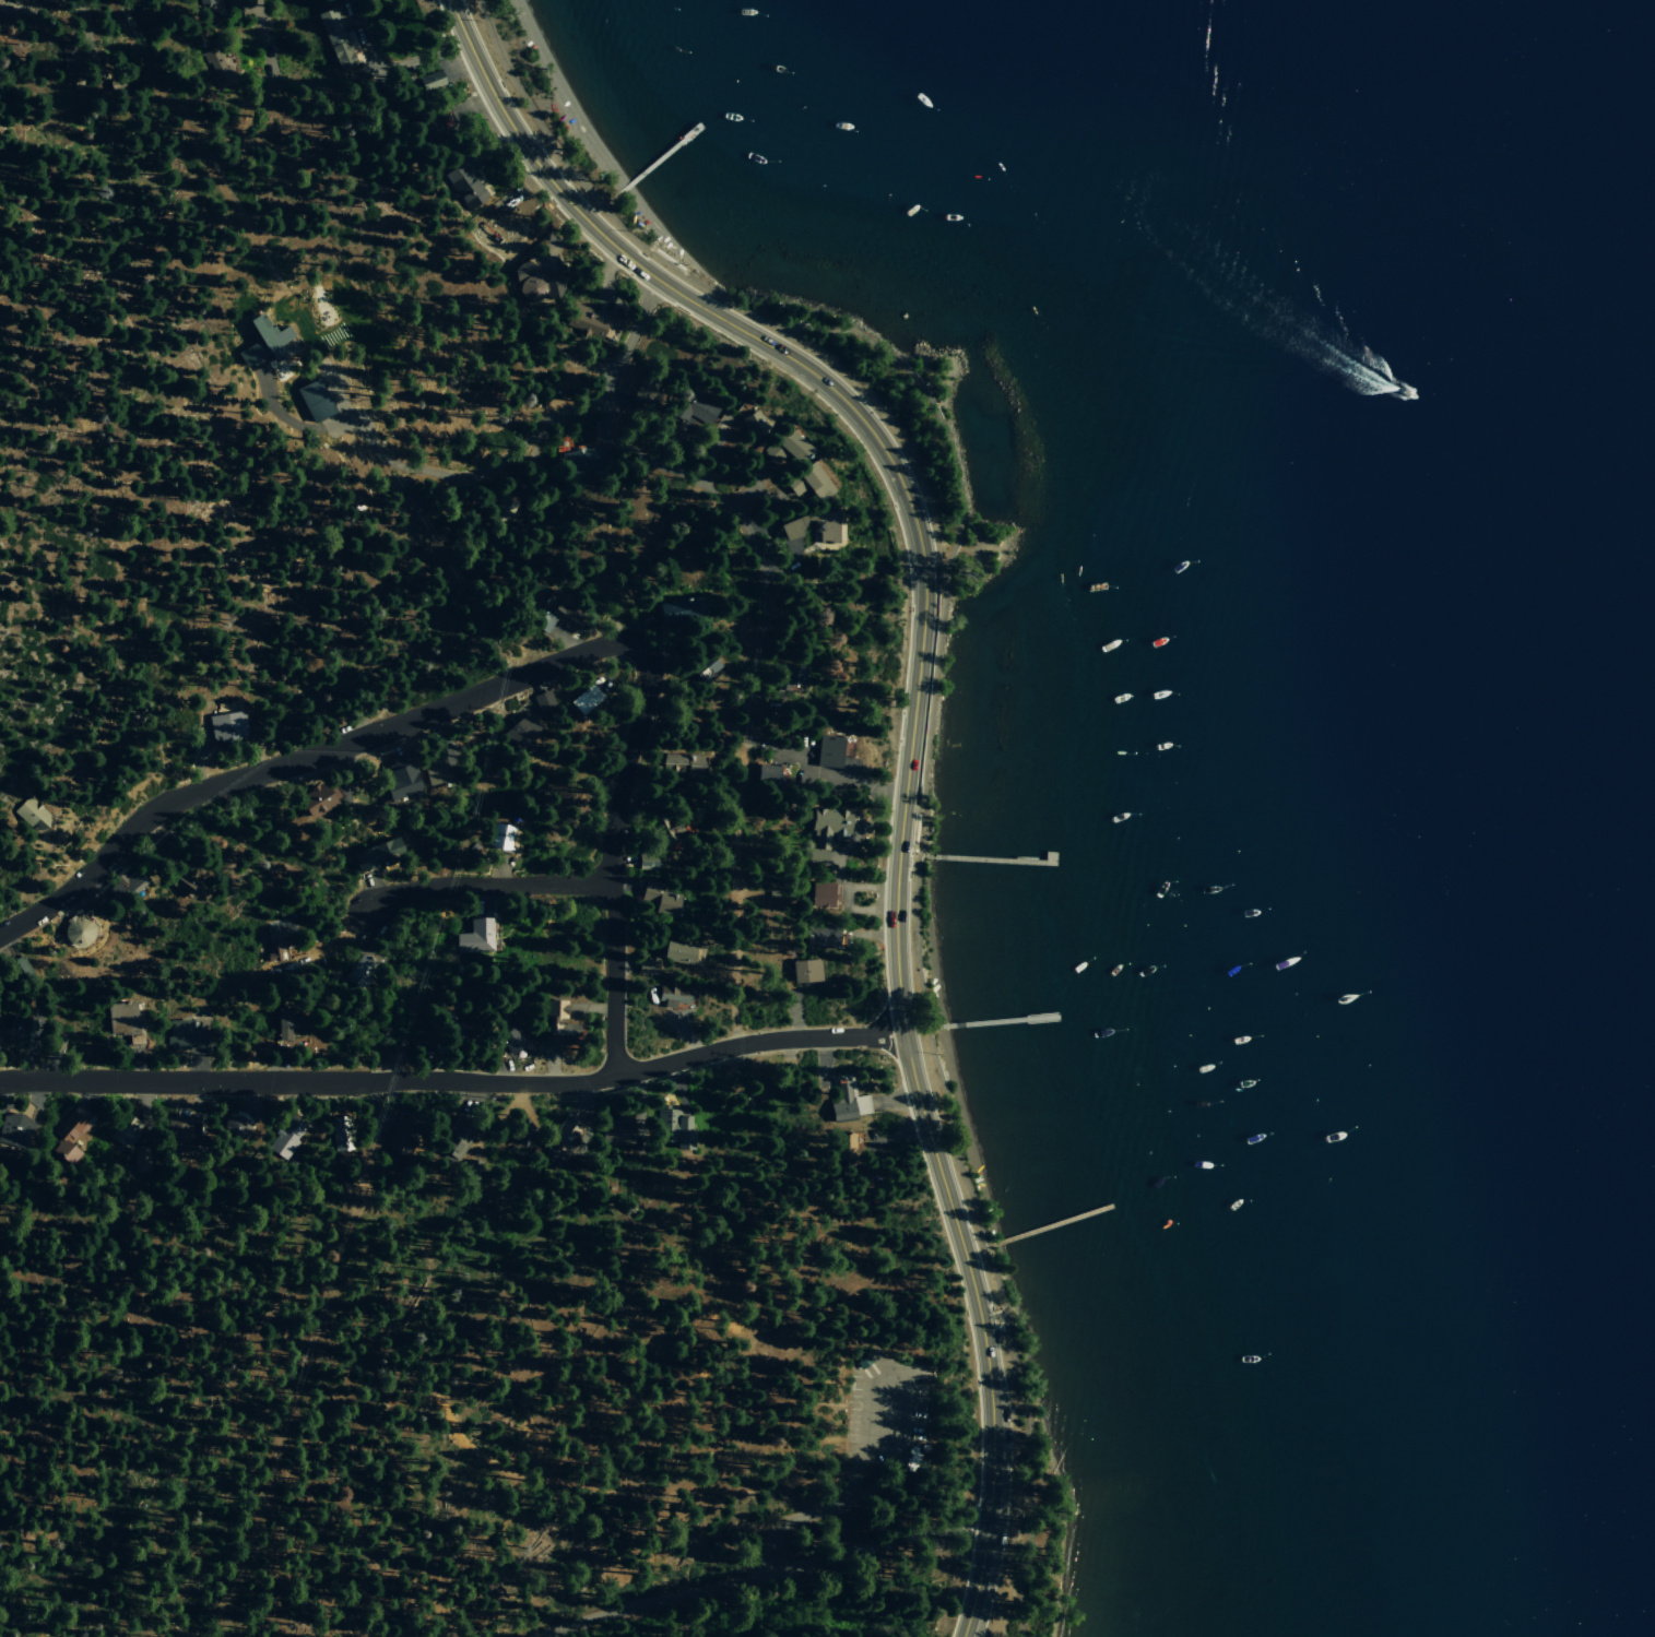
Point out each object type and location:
building: (15, 1)
building: (206, 2)
road: (263, 35)
building: (339, 40)
road: (138, 50)
building: (73, 52)
building: (215, 62)
building: (433, 81)
pier: (657, 163)
building: (464, 185)
road: (251, 237)
building: (535, 287)
building: (587, 321)
building: (263, 340)
building: (646, 390)
building: (314, 401)
building: (698, 410)
building: (753, 420)
road: (291, 423)
building: (787, 447)
building: (581, 461)
road: (458, 476)
building: (808, 483)
road: (706, 487)
building: (500, 511)
building: (815, 527)
building: (676, 612)
building: (559, 617)
building: (705, 668)
building: (788, 677)
building: (586, 700)
building: (543, 701)
road: (927, 705)
road: (912, 726)
building: (226, 727)
building: (520, 732)
building: (831, 751)
road: (298, 762)
building: (684, 766)
building: (437, 772)
building: (768, 773)
building: (400, 780)
building: (319, 799)
building: (32, 815)
building: (825, 831)
building: (501, 838)
road: (612, 854)
building: (377, 856)
pier: (990, 858)
building: (647, 861)
building: (182, 885)
road: (487, 885)
building: (126, 886)
road: (730, 890)
building: (660, 899)
building: (76, 934)
building: (475, 937)
building: (821, 938)
building: (275, 944)
building: (682, 953)
building: (648, 965)
building: (19, 969)
building: (358, 973)
building: (806, 973)
building: (674, 996)
pier: (988, 1020)
building: (126, 1021)
building: (559, 1022)
building: (448, 1024)
building: (17, 1027)
building: (286, 1029)
building: (508, 1033)
building: (184, 1036)
building: (56, 1042)
road: (454, 1081)
building: (763, 1091)
building: (842, 1102)
building: (674, 1126)
building: (234, 1127)
building: (404, 1130)
building: (616, 1130)
building: (14, 1131)
building: (123, 1131)
building: (179, 1132)
building: (341, 1132)
building: (522, 1132)
building: (287, 1136)
building: (66, 1137)
building: (561, 1139)
building: (453, 1142)
building: (848, 1147)
building: (140, 1156)
pier: (1044, 1226)
road: (300, 1363)
parking lot: (886, 1384)
road: (839, 1499)
road: (761, 1575)

